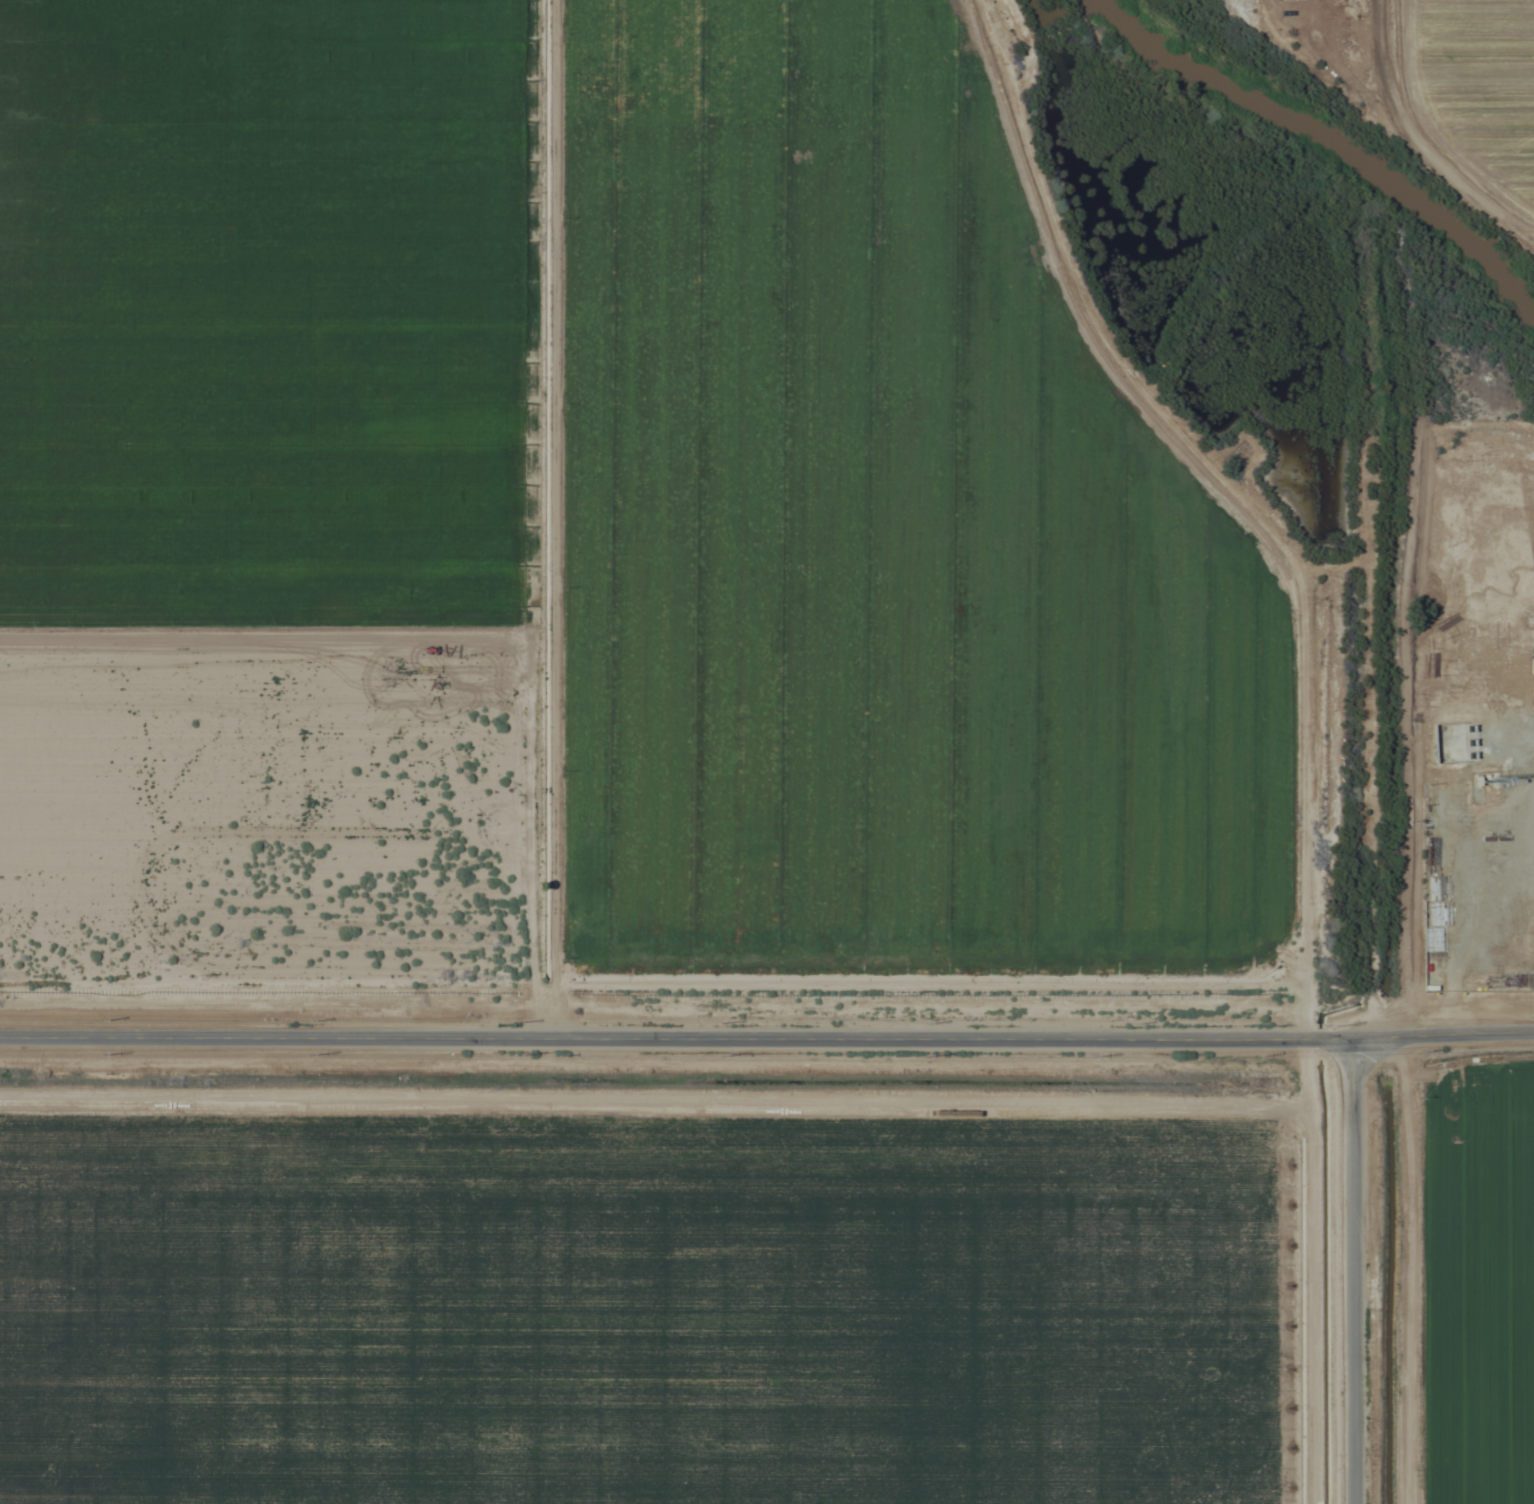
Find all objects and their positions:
road: (1419, 141)
river: (1333, 142)
road: (1370, 634)
building: (1431, 980)
road: (767, 1037)
road: (1411, 1269)
road: (1350, 1271)

